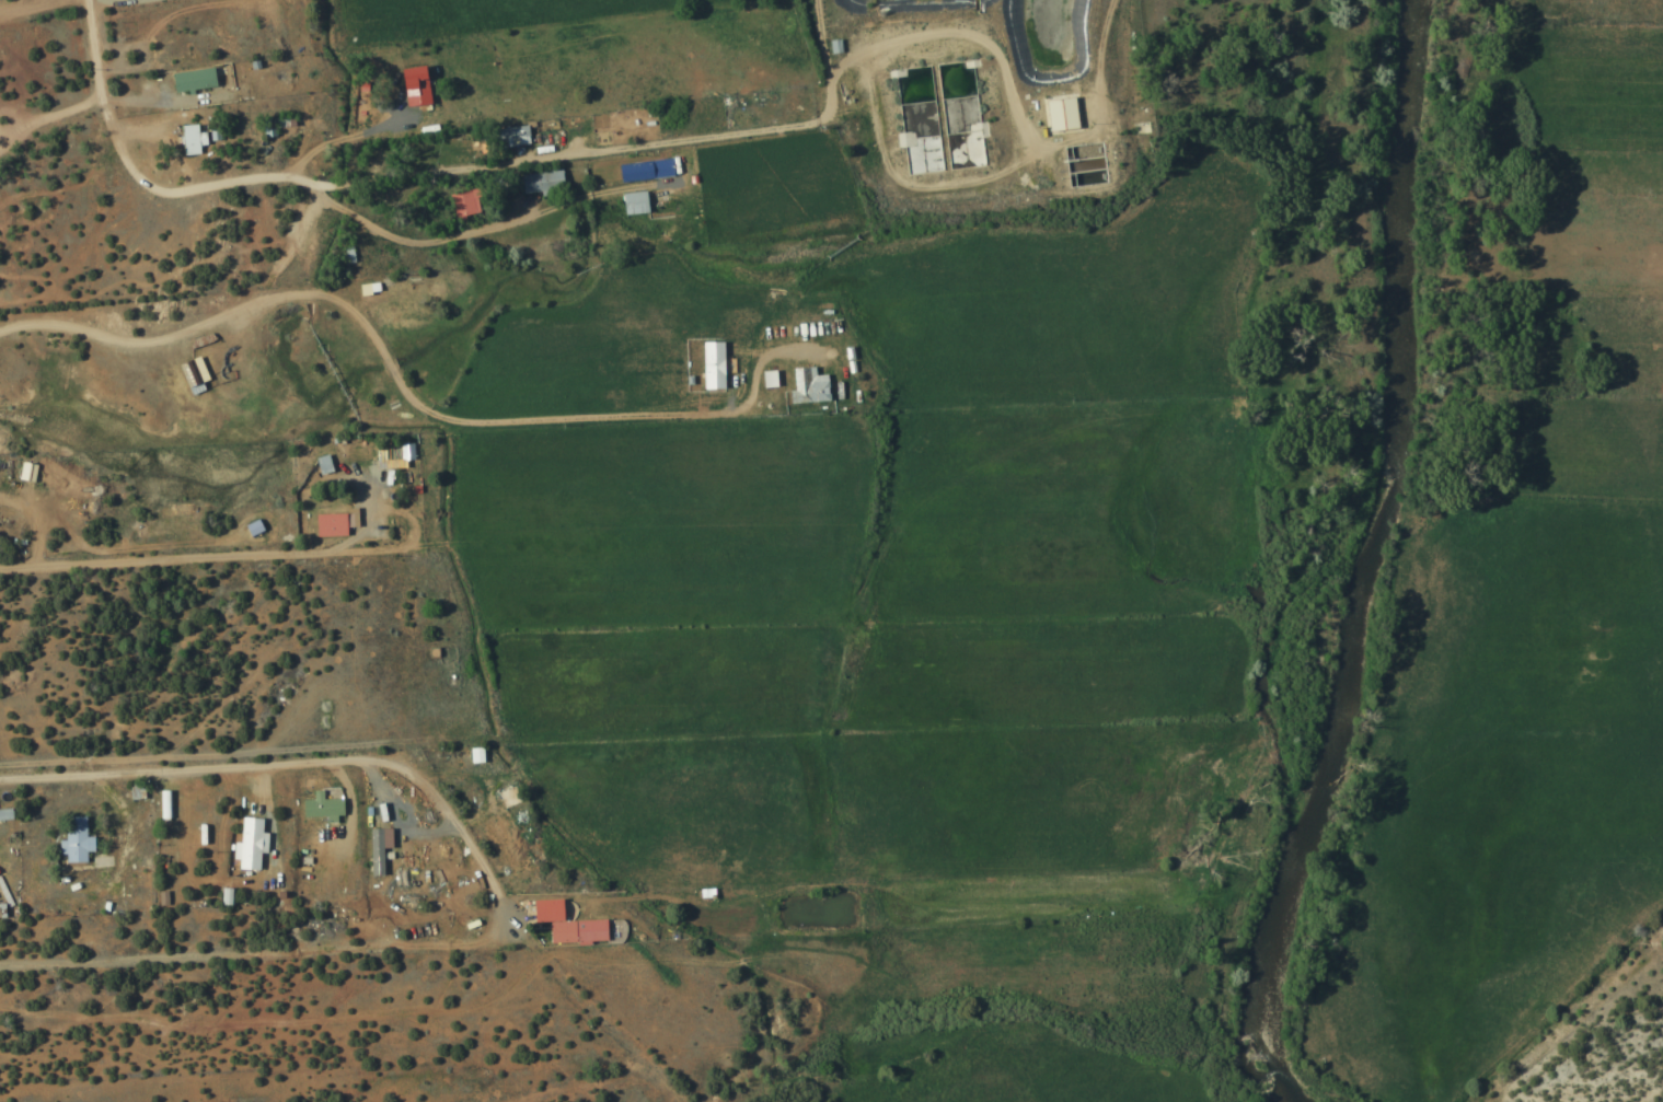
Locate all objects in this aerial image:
road: (36, 5)
building: (143, 30)
building: (189, 80)
building: (413, 89)
wastewater plant: (983, 107)
building: (937, 116)
building: (1064, 132)
building: (505, 137)
building: (188, 139)
road: (582, 152)
building: (539, 182)
road: (195, 188)
building: (461, 204)
building: (308, 227)
road: (365, 335)
road: (139, 339)
building: (709, 366)
building: (190, 373)
building: (806, 385)
road: (581, 417)
building: (320, 465)
building: (327, 525)
building: (250, 529)
road: (164, 559)
river: (1363, 564)
road: (286, 763)
building: (134, 792)
building: (506, 796)
building: (320, 805)
building: (3, 814)
building: (499, 838)
building: (73, 839)
building: (247, 842)
building: (135, 886)
building: (563, 924)
road: (269, 952)
road: (241, 1017)

